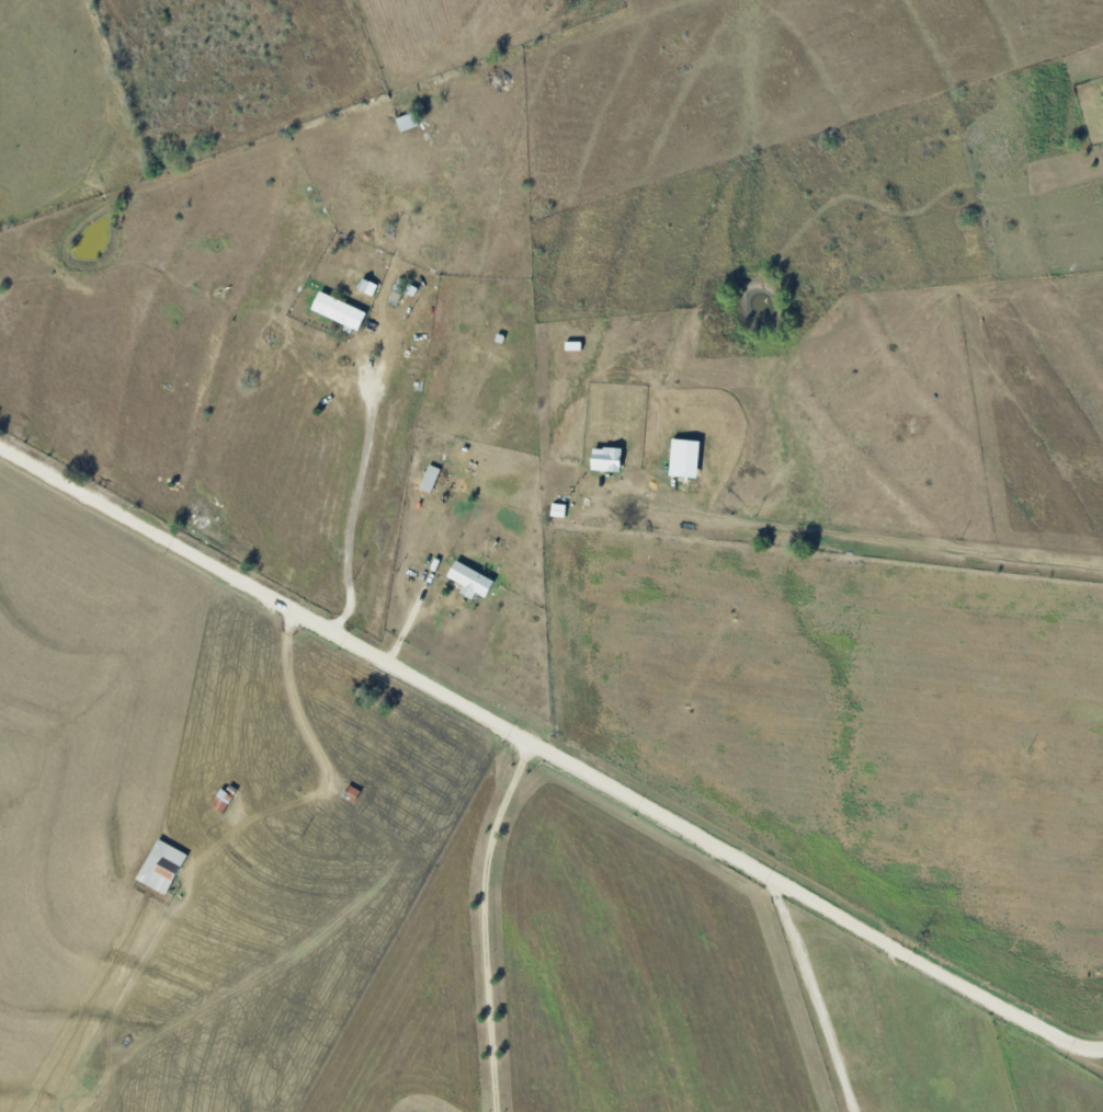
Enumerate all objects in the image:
building: (1102, 85)
building: (406, 122)
building: (338, 310)
building: (605, 459)
building: (429, 478)
road: (354, 500)
road: (860, 547)
building: (469, 581)
road: (291, 688)
road: (544, 748)
building: (161, 867)
road: (489, 922)
road: (1096, 1047)

